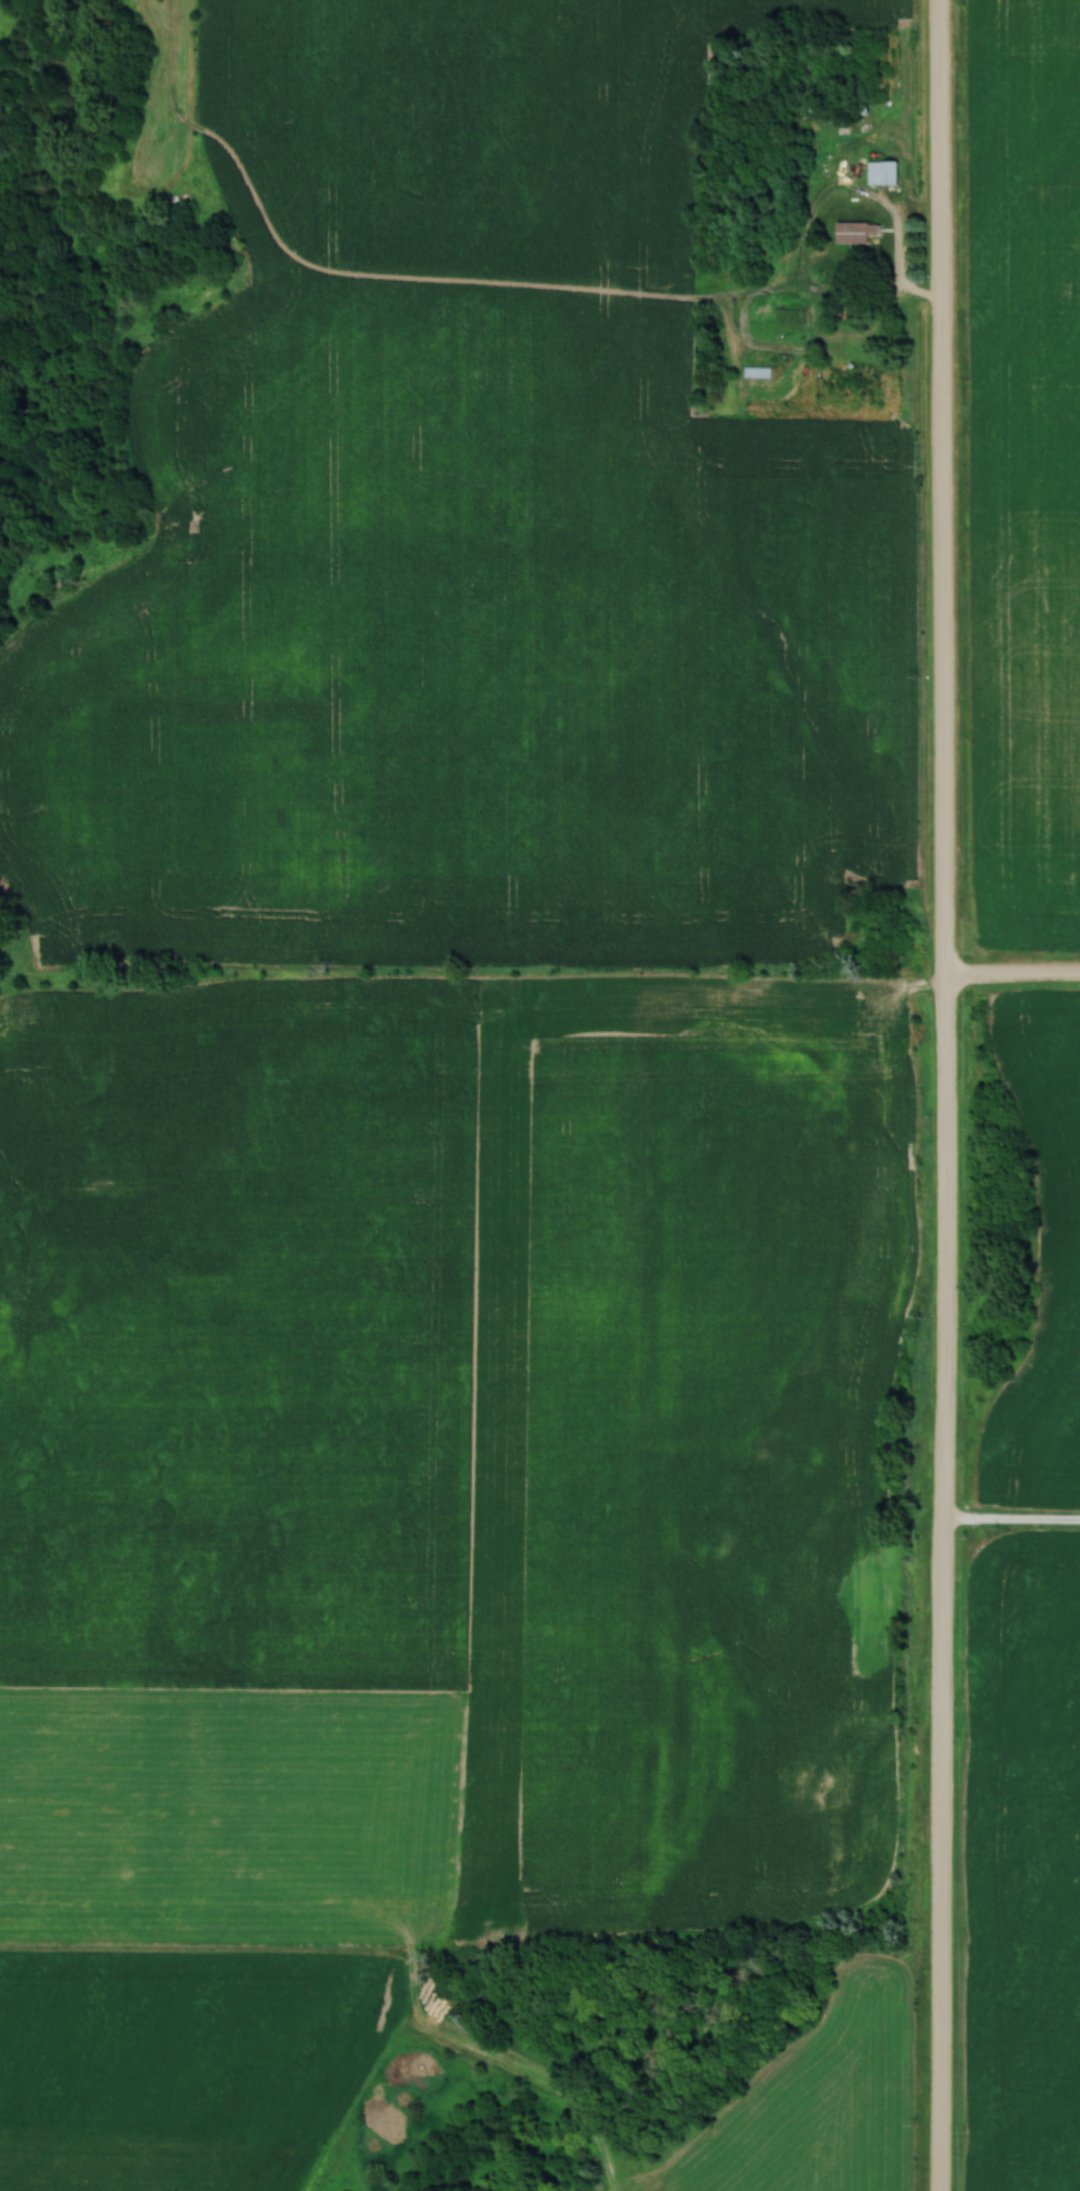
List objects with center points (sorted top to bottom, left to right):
building: (882, 172)
building: (852, 233)
road: (896, 256)
building: (756, 372)
road: (1010, 975)
road: (939, 1094)
crop: (1060, 1247)
road: (1009, 1521)
crop: (1023, 1866)

